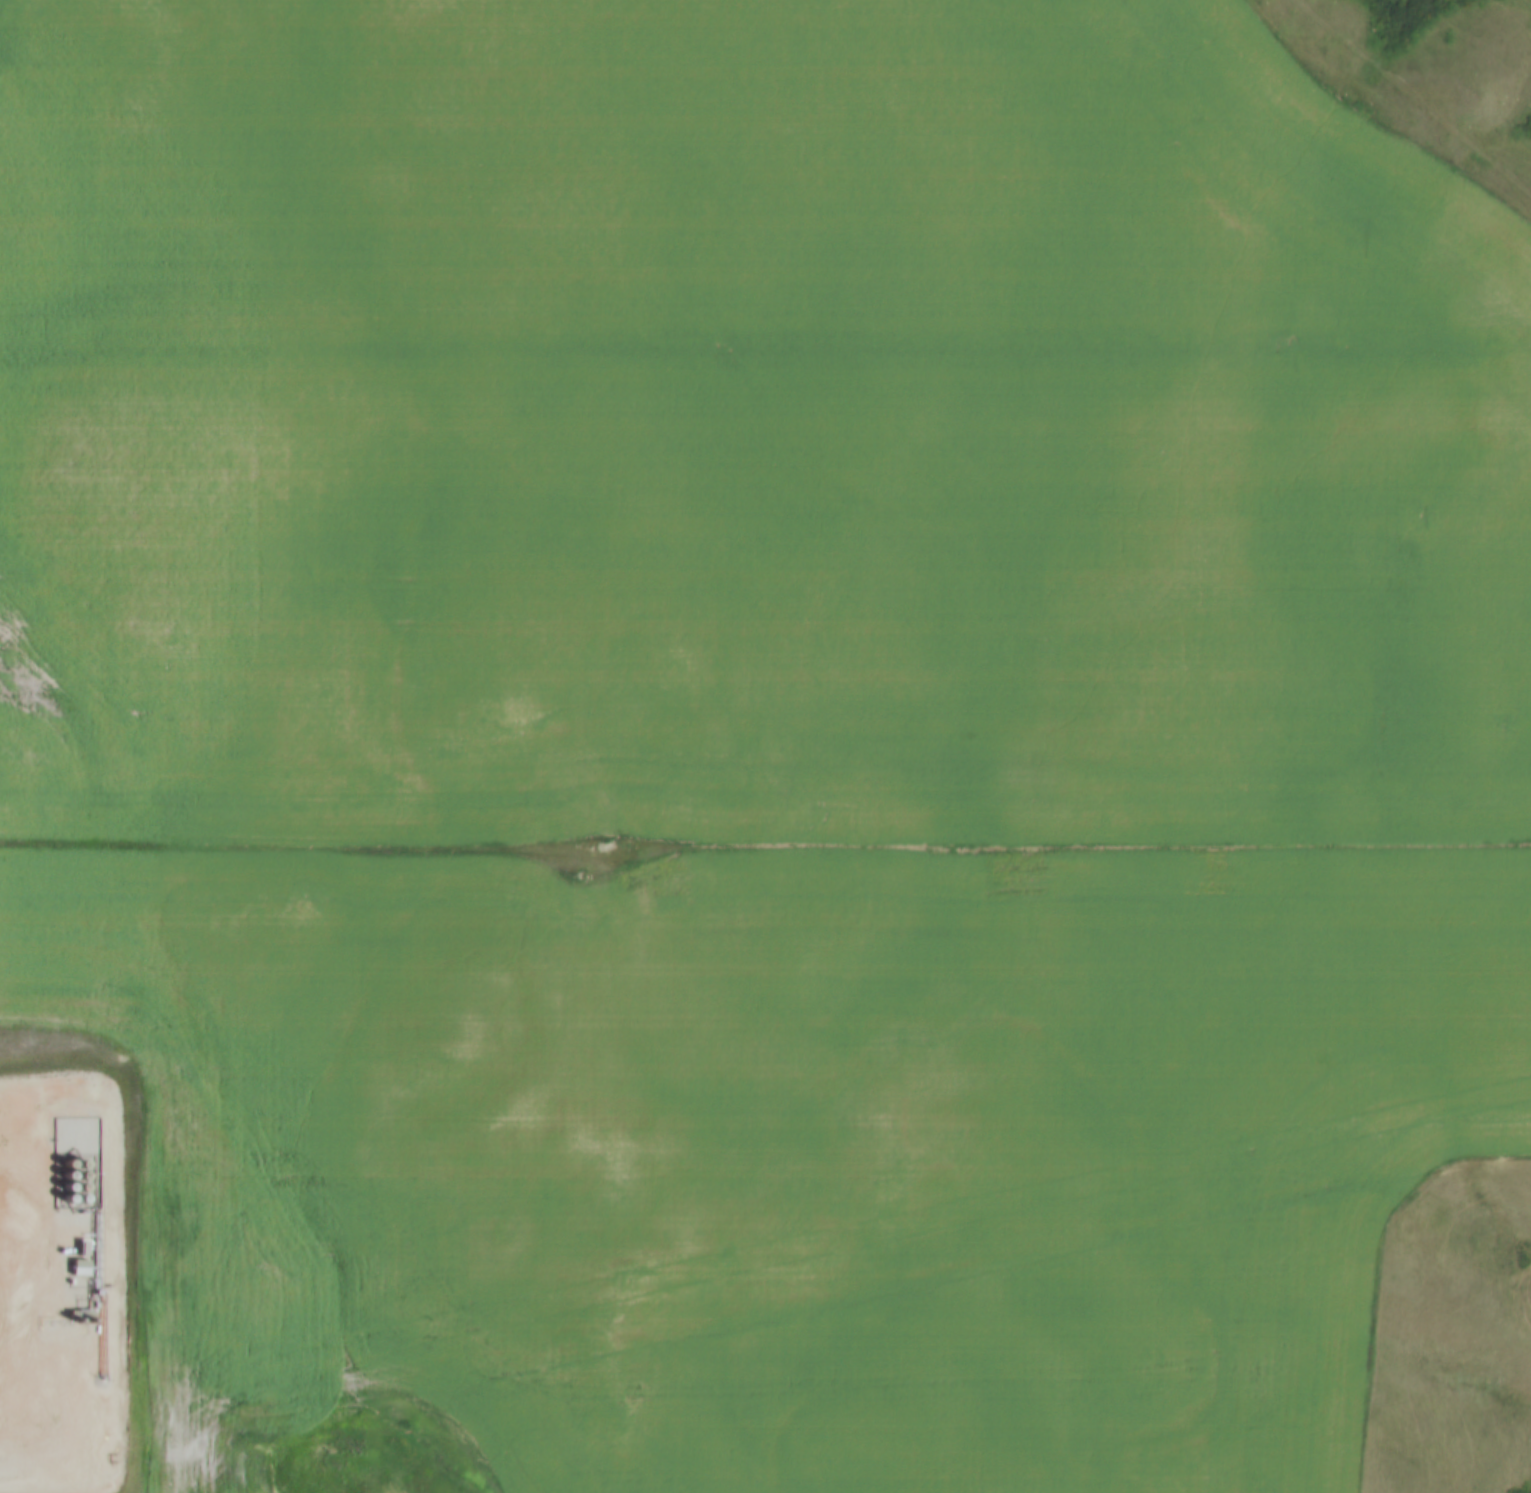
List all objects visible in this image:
building: (62, 1118)
storage tank: (62, 1118)
building: (76, 1119)
storage tank: (76, 1119)
building: (61, 1130)
storage tank: (61, 1130)
building: (76, 1130)
storage tank: (76, 1130)
building: (75, 1141)
storage tank: (75, 1141)
building: (61, 1143)
storage tank: (61, 1143)
building: (75, 1154)
storage tank: (75, 1154)
building: (61, 1155)
storage tank: (61, 1155)
building: (75, 1165)
storage tank: (75, 1165)
building: (62, 1166)
storage tank: (62, 1166)
building: (75, 1177)
storage tank: (75, 1177)
building: (62, 1178)
storage tank: (62, 1178)
building: (61, 1188)
storage tank: (61, 1188)
building: (76, 1188)
storage tank: (76, 1188)

